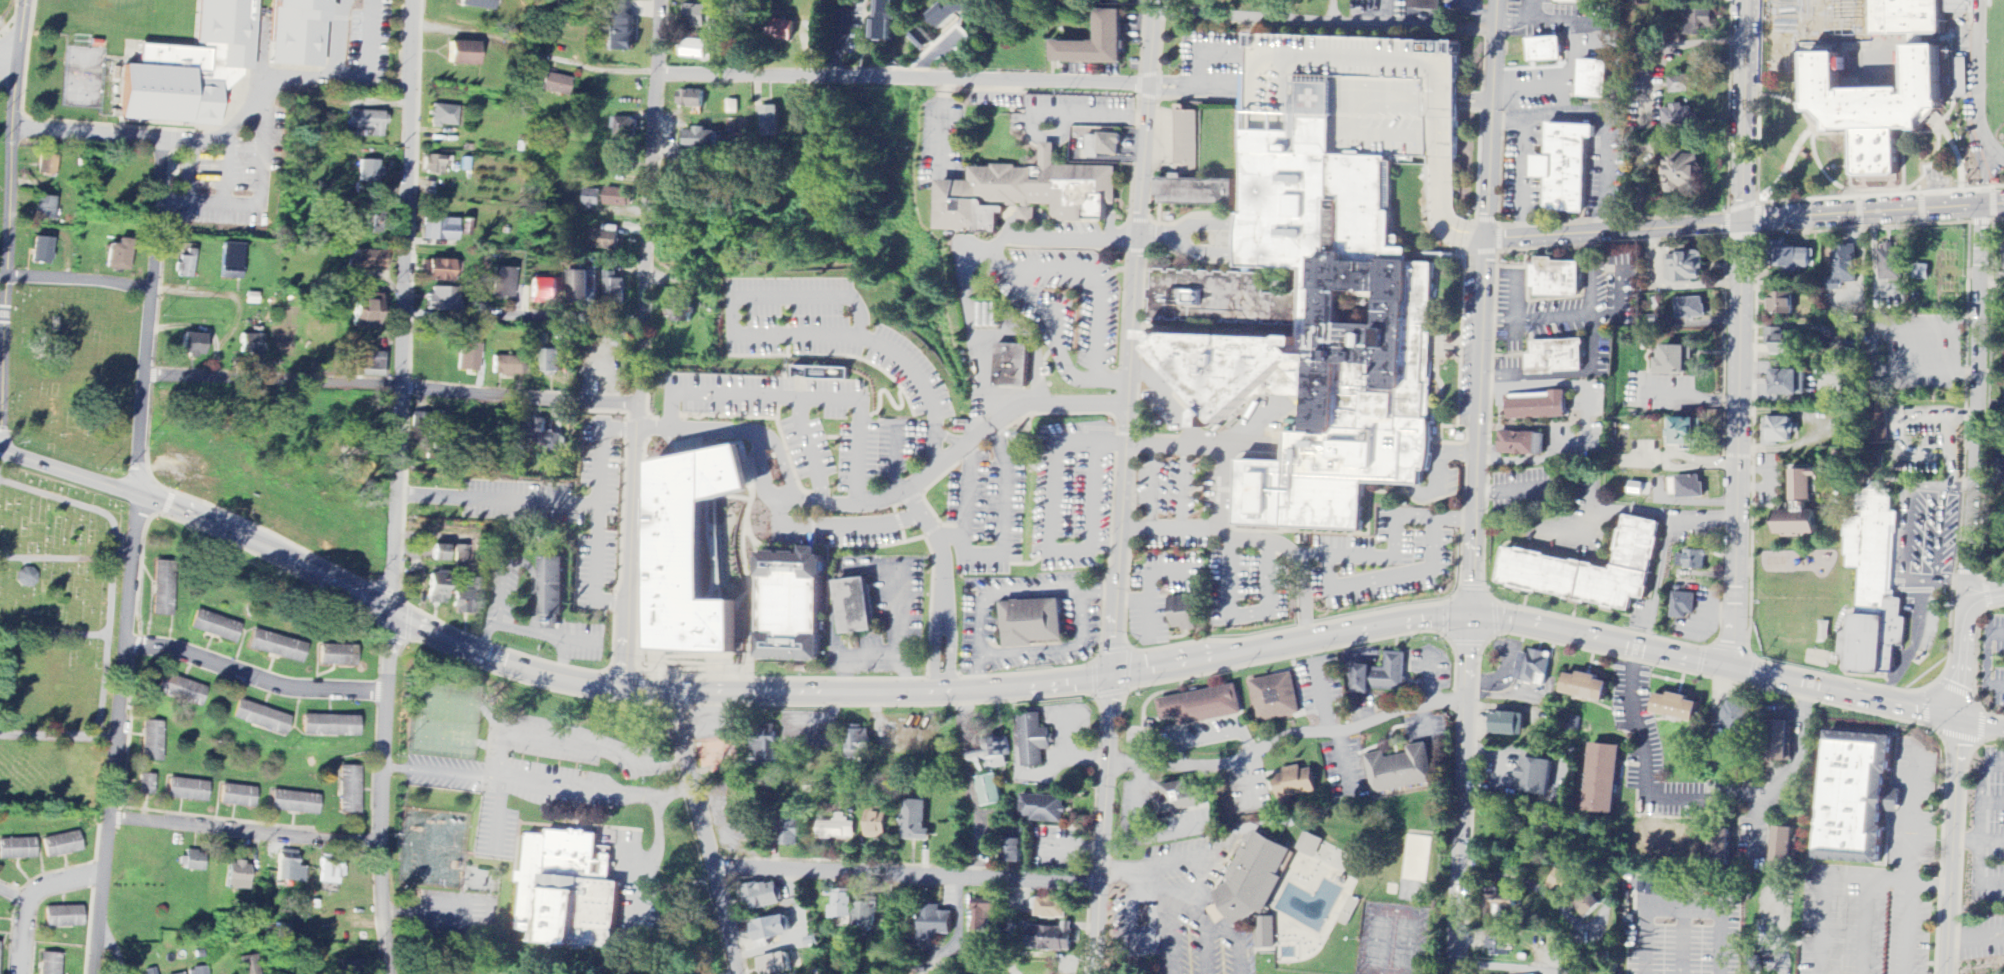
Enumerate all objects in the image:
park: (123, 1)
building: (1577, 2)
building: (478, 4)
building: (1424, 5)
road: (1329, 10)
road: (1389, 11)
building: (945, 14)
building: (700, 15)
road: (1325, 19)
building: (884, 20)
building: (1699, 21)
road: (1827, 26)
building: (621, 27)
building: (781, 30)
road: (1851, 30)
building: (295, 31)
park: (1997, 35)
road: (335, 38)
road: (1794, 39)
building: (1099, 43)
building: (694, 49)
building: (1546, 50)
road: (532, 51)
road: (9, 52)
building: (464, 53)
road: (1202, 54)
building: (188, 68)
park: (81, 76)
road: (351, 79)
road: (901, 80)
building: (1594, 80)
building: (1680, 82)
track: (1979, 82)
building: (554, 84)
road: (1188, 87)
building: (1931, 88)
building: (1961, 90)
building: (690, 99)
helipad: (1322, 99)
building: (444, 116)
building: (1679, 120)
building: (769, 121)
building: (367, 123)
building: (626, 128)
road: (87, 132)
road: (214, 136)
road: (1812, 138)
building: (701, 139)
building: (1104, 146)
road: (1795, 148)
road: (1953, 149)
building: (620, 164)
road: (1931, 164)
building: (47, 165)
building: (434, 165)
park: (2, 168)
building: (1566, 168)
building: (370, 171)
road: (228, 173)
building: (1193, 174)
building: (1682, 174)
road: (264, 192)
road: (1880, 193)
building: (1027, 195)
road: (1763, 196)
building: (591, 198)
building: (616, 198)
road: (1992, 202)
road: (1972, 204)
road: (1742, 206)
building: (45, 208)
road: (1920, 208)
road: (1853, 212)
road: (1883, 214)
road: (1756, 218)
road: (1609, 219)
road: (1998, 219)
road: (1981, 220)
building: (376, 223)
road: (1726, 223)
road: (1755, 223)
road: (1473, 224)
traffic signals: (1742, 224)
road: (9, 225)
road: (1862, 228)
building: (441, 230)
parking lot: (1077, 230)
road: (1617, 233)
road: (1740, 236)
road: (1497, 239)
road: (1160, 240)
building: (604, 241)
road: (1611, 244)
building: (42, 251)
road: (972, 251)
road: (1481, 251)
building: (119, 256)
building: (367, 260)
building: (1798, 260)
building: (231, 261)
building: (1890, 263)
building: (186, 265)
building: (1685, 267)
building: (1843, 267)
building: (442, 270)
road: (76, 278)
building: (1557, 279)
building: (503, 283)
road: (1099, 285)
building: (578, 286)
building: (613, 290)
building: (545, 292)
building: (442, 299)
building: (1782, 304)
parking lot: (1067, 308)
building: (1690, 309)
building: (678, 310)
building: (367, 311)
road: (552, 321)
building: (1314, 326)
building: (1262, 332)
road: (777, 334)
road: (1739, 335)
road: (1050, 336)
parking lot: (835, 341)
road: (640, 342)
road: (1722, 342)
building: (1784, 342)
road: (1030, 343)
building: (193, 346)
building: (252, 346)
parking lot: (1913, 352)
building: (469, 358)
building: (1557, 358)
building: (551, 362)
building: (1676, 362)
building: (1011, 365)
building: (510, 367)
park: (75, 373)
building: (1790, 383)
road: (391, 385)
parking lot: (1672, 394)
road: (799, 395)
road: (1583, 396)
road: (1972, 403)
building: (1538, 407)
road: (1004, 411)
road: (698, 429)
parking lot: (814, 429)
road: (761, 432)
building: (1780, 432)
building: (1687, 435)
building: (544, 438)
road: (949, 438)
building: (1522, 444)
road: (808, 450)
road: (599, 453)
road: (894, 460)
road: (1531, 461)
building: (362, 476)
parking lot: (1768, 478)
road: (1124, 486)
road: (1474, 486)
road: (394, 487)
building: (1690, 488)
building: (1639, 489)
road: (1512, 491)
parking lot: (1073, 492)
road: (554, 502)
road: (914, 502)
parking lot: (985, 505)
building: (1804, 506)
road: (1662, 516)
road: (1221, 525)
road: (836, 526)
road: (1171, 527)
parking lot: (841, 528)
road: (1051, 534)
road: (950, 536)
road: (433, 538)
building: (440, 554)
building: (690, 554)
road: (56, 557)
building: (462, 557)
road: (137, 558)
road: (997, 558)
building: (1691, 561)
road: (112, 569)
road: (1160, 571)
building: (1592, 571)
building: (1875, 586)
building: (164, 589)
building: (438, 589)
road: (996, 589)
parking lot: (1159, 590)
building: (552, 595)
road: (1984, 596)
building: (467, 602)
road: (1147, 602)
building: (853, 606)
building: (1682, 606)
road: (895, 608)
building: (792, 609)
building: (1185, 612)
traffic signals: (1468, 615)
parking lot: (881, 620)
parking lot: (982, 622)
building: (1031, 623)
road: (944, 624)
building: (215, 627)
road: (54, 633)
park: (55, 637)
building: (277, 647)
road: (1057, 649)
building: (337, 656)
road: (876, 656)
road: (1961, 659)
road: (1985, 661)
building: (1533, 668)
traffic signals: (1110, 675)
building: (1381, 676)
road: (255, 679)
building: (1589, 688)
building: (181, 691)
road: (963, 691)
road: (1321, 697)
building: (1275, 698)
building: (1202, 707)
building: (1680, 708)
building: (261, 718)
park: (442, 718)
traffic signals: (1957, 719)
building: (1736, 720)
road: (1425, 721)
road: (1980, 724)
building: (1508, 725)
building: (329, 726)
road: (59, 736)
road: (1210, 738)
road: (1285, 738)
building: (152, 741)
building: (1034, 741)
building: (1786, 742)
building: (859, 743)
road: (502, 744)
road: (1142, 752)
building: (768, 753)
building: (990, 756)
road: (643, 759)
road: (1342, 763)
building: (1402, 770)
road: (1983, 773)
building: (1535, 777)
building: (1602, 779)
road: (540, 782)
road: (1246, 783)
building: (1297, 783)
building: (146, 785)
parking lot: (1933, 785)
building: (188, 790)
building: (350, 790)
building: (989, 792)
building: (239, 796)
road: (1694, 796)
building: (1862, 799)
building: (1182, 800)
building: (296, 803)
building: (1043, 810)
road: (1908, 814)
road: (1979, 819)
building: (916, 822)
building: (879, 827)
building: (791, 829)
road: (243, 830)
building: (837, 830)
road: (709, 832)
road: (1139, 835)
road: (1991, 838)
building: (62, 845)
building: (1309, 845)
road: (1951, 846)
park: (430, 847)
building: (1015, 848)
building: (17, 849)
building: (1787, 849)
building: (1723, 851)
road: (1977, 861)
building: (190, 862)
road: (645, 863)
building: (289, 868)
building: (330, 871)
road: (908, 874)
road: (1840, 874)
building: (238, 876)
building: (1252, 882)
building: (1560, 882)
road: (1527, 883)
building: (570, 892)
road: (16, 895)
building: (764, 896)
road: (33, 898)
road: (1160, 901)
building: (1507, 903)
building: (1588, 904)
road: (1681, 905)
building: (841, 907)
building: (1053, 908)
building: (984, 916)
building: (64, 917)
building: (865, 917)
road: (1200, 921)
building: (936, 924)
road: (1864, 925)
road: (1908, 929)
building: (1266, 934)
building: (1052, 939)
road: (1682, 940)
road: (112, 942)
building: (1498, 946)
road: (1238, 956)
building: (52, 964)
building: (250, 965)
building: (775, 965)
building: (353, 968)
building: (150, 971)
building: (198, 971)
building: (183, 973)
building: (1602, 973)

